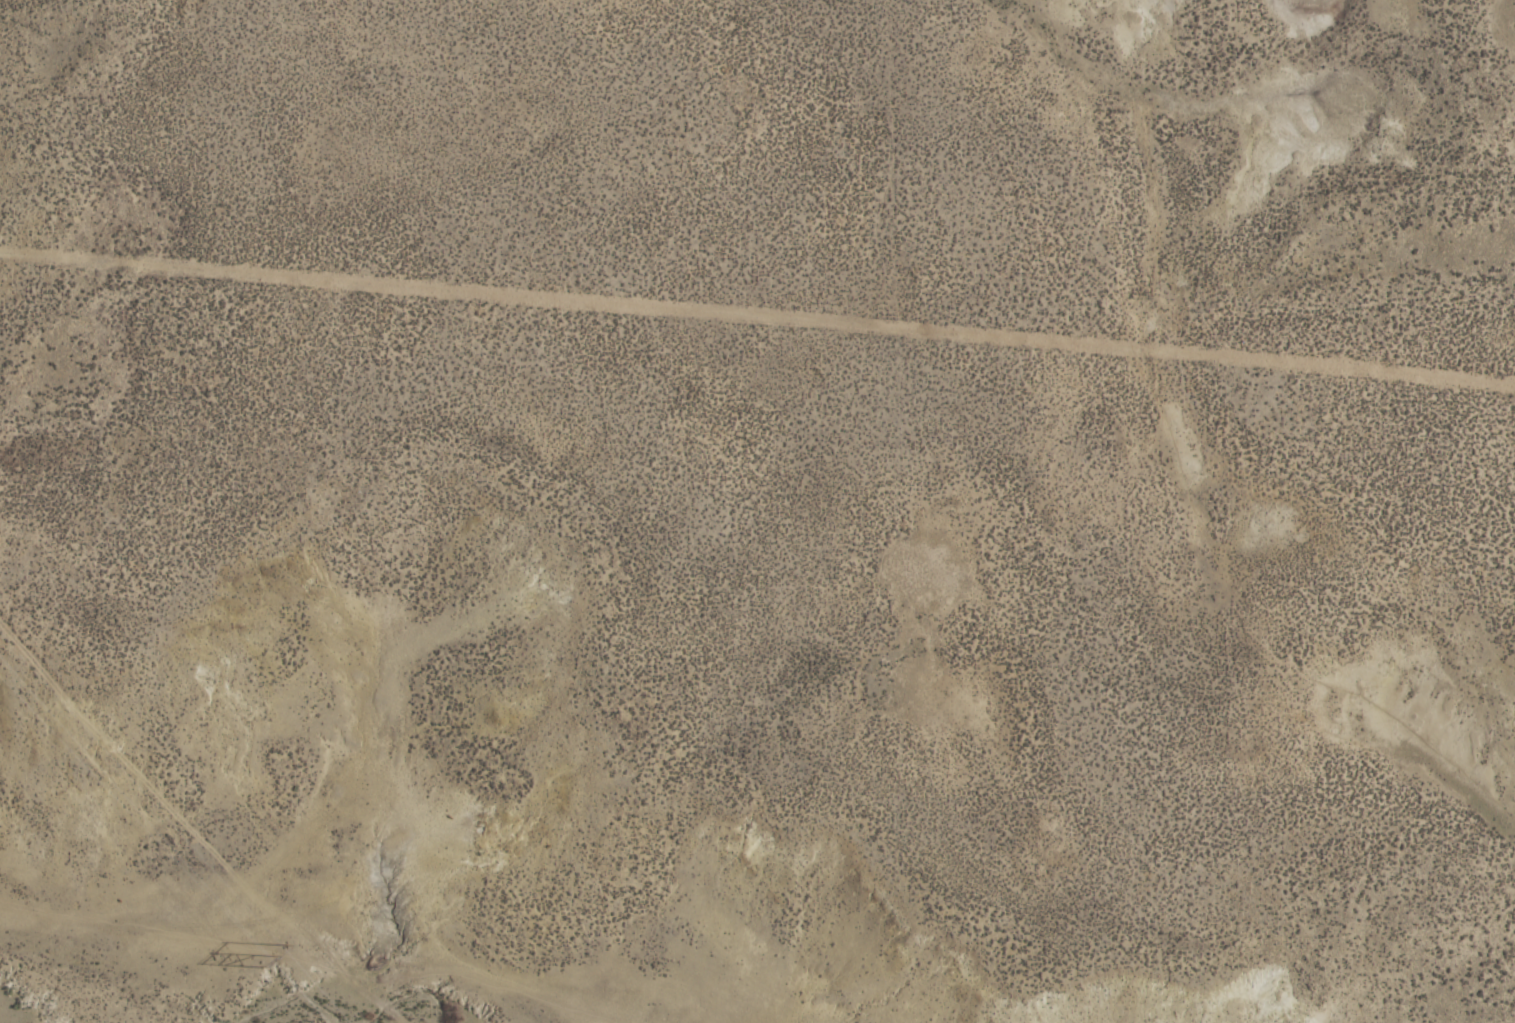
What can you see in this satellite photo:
power tower: (263, 957)
river: (347, 996)

